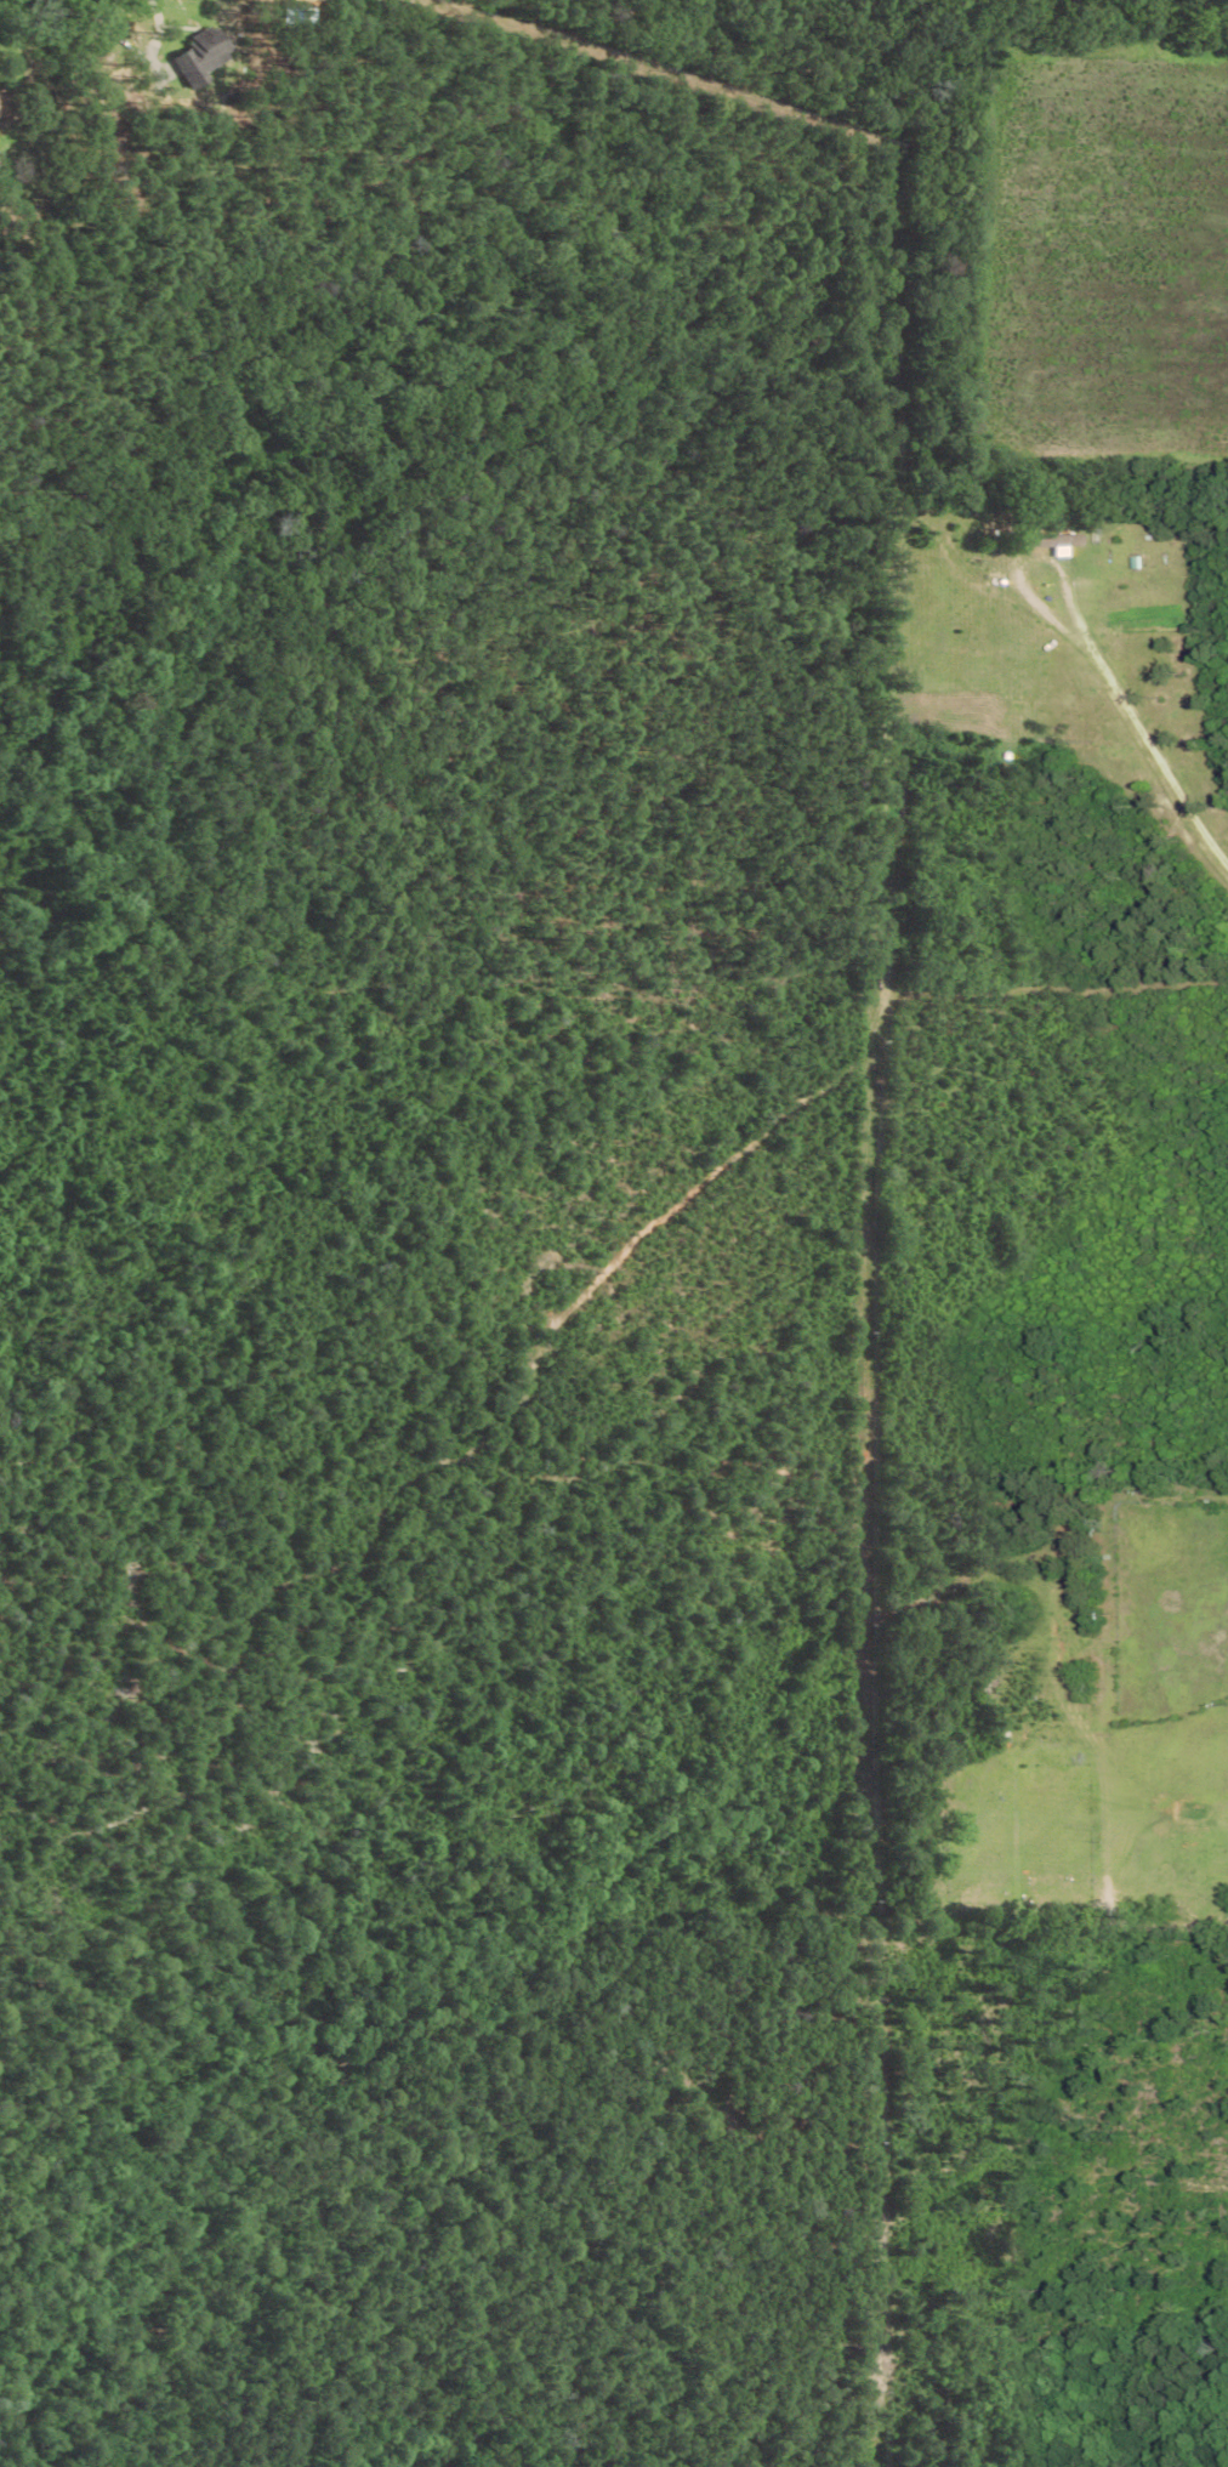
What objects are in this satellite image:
road: (166, 19)
building: (210, 44)
building: (0, 108)
building: (1063, 541)
road: (1028, 558)
road: (1155, 757)

